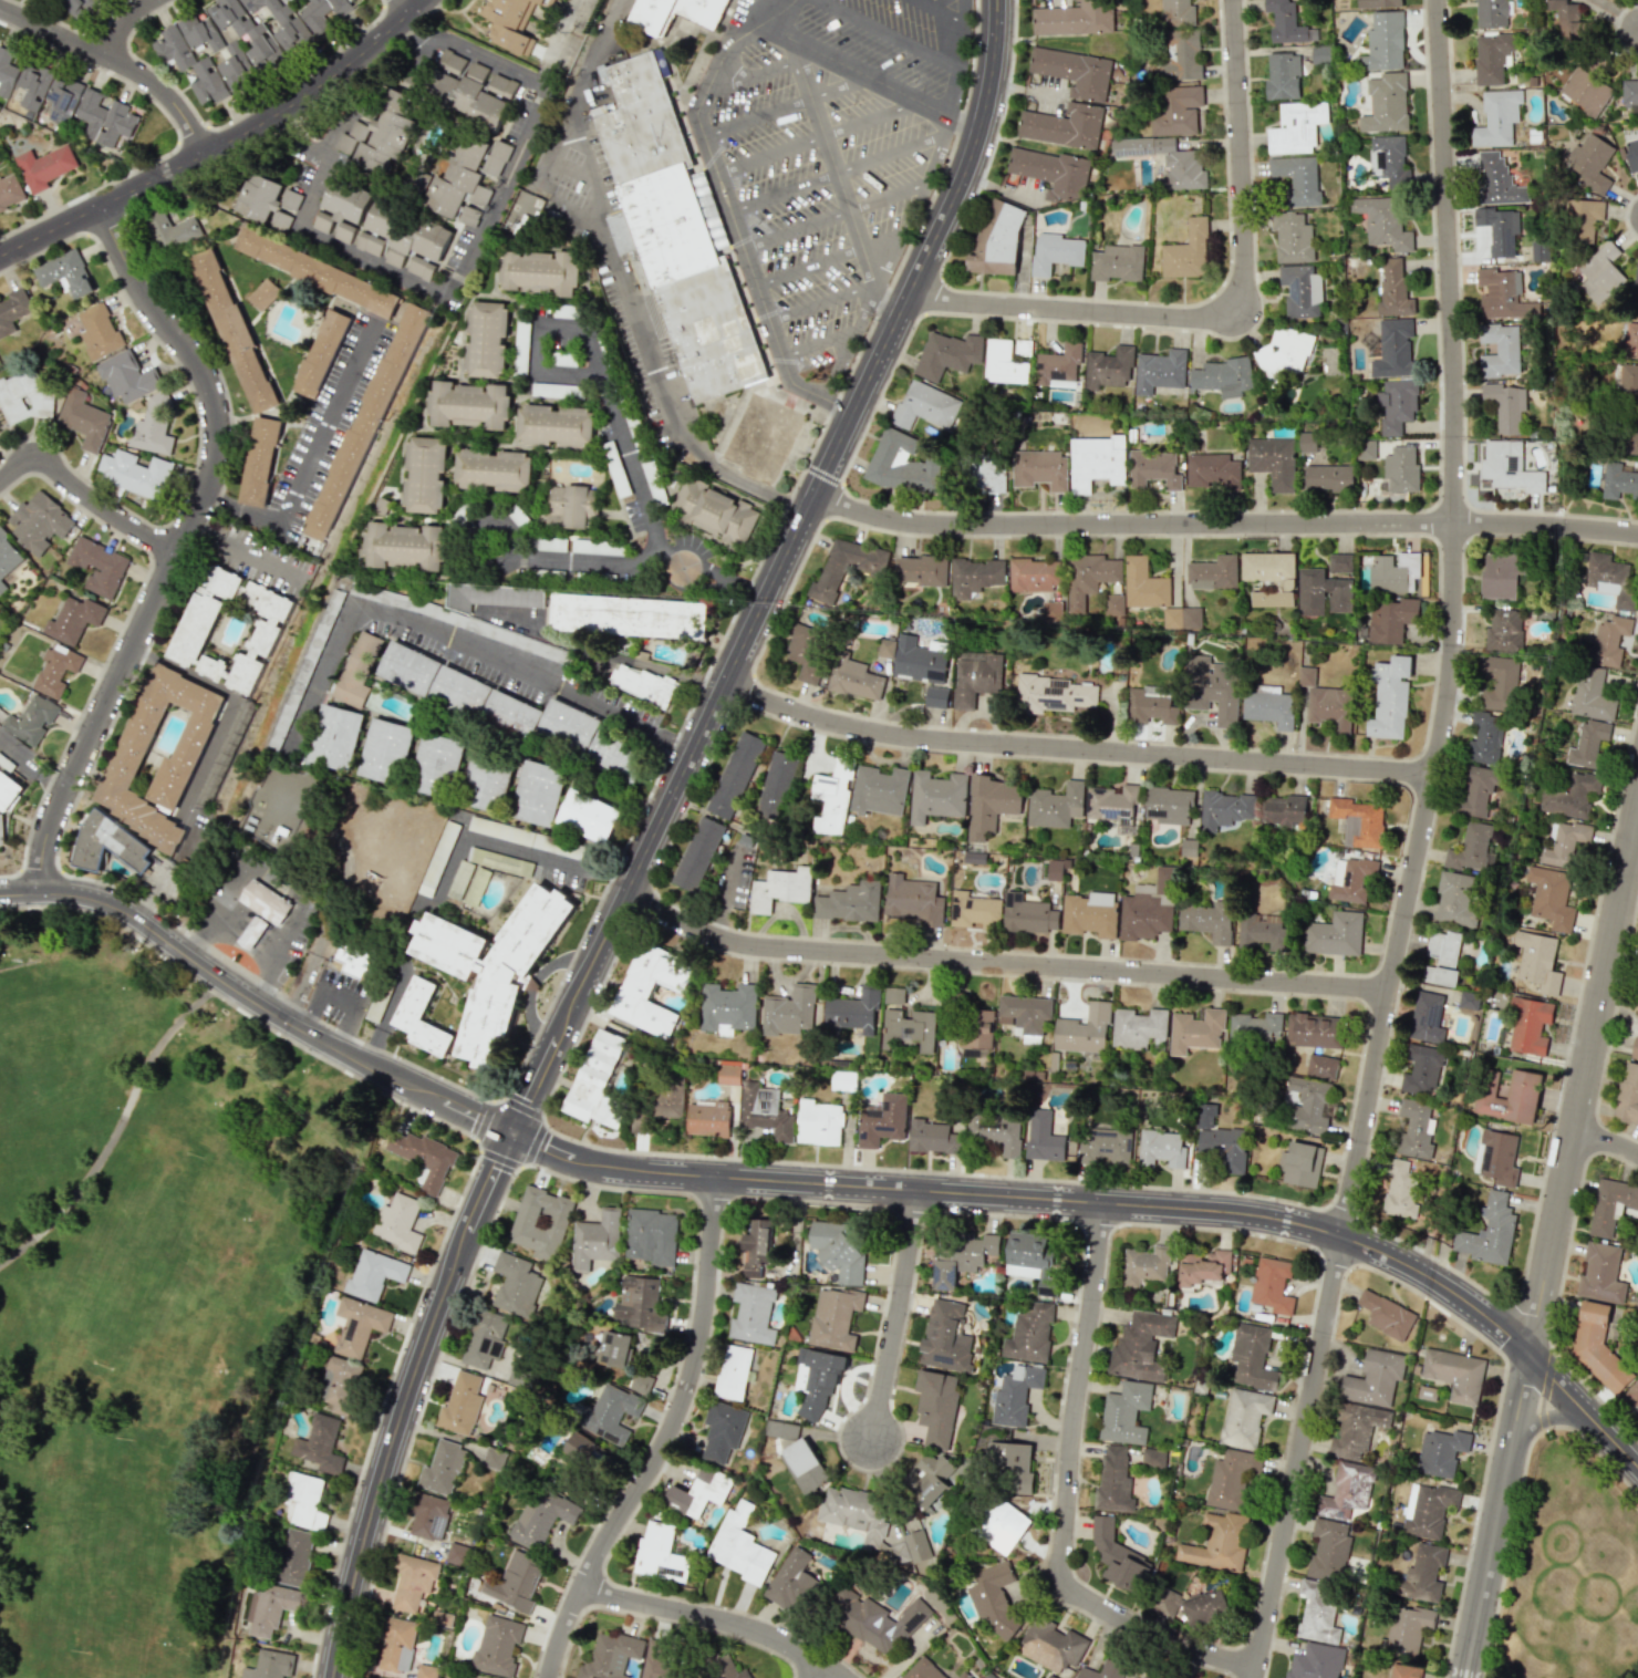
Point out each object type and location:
building: (289, 0)
road: (407, 3)
building: (1378, 3)
building: (77, 7)
building: (677, 11)
road: (937, 11)
building: (1176, 12)
building: (323, 13)
building: (1492, 13)
building: (1074, 17)
building: (1568, 17)
building: (1285, 21)
building: (283, 23)
road: (125, 24)
road: (569, 27)
building: (199, 33)
road: (885, 33)
building: (1383, 42)
building: (263, 49)
building: (1181, 54)
building: (1492, 59)
road: (117, 64)
building: (190, 64)
road: (857, 69)
road: (766, 70)
building: (1074, 70)
building: (7, 72)
building: (1283, 75)
building: (33, 86)
building: (470, 90)
building: (1587, 91)
building: (1630, 93)
building: (63, 100)
building: (1386, 103)
road: (781, 104)
building: (1176, 110)
building: (104, 118)
building: (1496, 118)
road: (966, 123)
building: (1062, 125)
building: (1296, 127)
building: (380, 134)
road: (815, 138)
road: (1207, 141)
road: (220, 145)
building: (1632, 153)
parking lot: (836, 156)
building: (495, 158)
building: (0, 159)
building: (1389, 159)
building: (1167, 160)
building: (1592, 162)
building: (44, 166)
road: (838, 172)
building: (1051, 173)
road: (834, 175)
building: (459, 176)
building: (1297, 178)
building: (1497, 180)
building: (10, 190)
road: (722, 193)
building: (268, 200)
building: (346, 200)
road: (916, 206)
road: (836, 218)
building: (1584, 220)
building: (322, 222)
building: (1382, 222)
building: (170, 230)
building: (1499, 230)
building: (344, 232)
building: (1292, 237)
building: (408, 238)
building: (996, 240)
building: (370, 244)
building: (1537, 249)
building: (1188, 251)
building: (1055, 252)
building: (685, 259)
road: (468, 260)
building: (1117, 262)
road: (828, 265)
building: (540, 271)
building: (65, 272)
building: (318, 272)
building: (1601, 272)
building: (1636, 275)
building: (1393, 289)
road: (624, 290)
building: (1300, 291)
building: (263, 294)
road: (892, 294)
road: (1079, 296)
building: (1504, 296)
road: (1219, 304)
road: (823, 305)
building: (13, 310)
building: (235, 330)
building: (99, 331)
building: (487, 340)
building: (1628, 340)
road: (817, 344)
building: (1023, 346)
building: (1392, 349)
building: (1500, 350)
building: (321, 353)
road: (537, 354)
building: (947, 354)
building: (1284, 354)
building: (563, 359)
building: (1003, 363)
building: (1058, 366)
building: (1160, 371)
building: (1224, 376)
building: (127, 377)
building: (1627, 379)
building: (24, 396)
building: (1397, 404)
building: (468, 405)
road: (839, 406)
building: (925, 406)
building: (1506, 406)
building: (84, 418)
building: (367, 421)
building: (554, 425)
building: (153, 426)
building: (1631, 433)
building: (1307, 442)
building: (1365, 449)
road: (836, 454)
road: (308, 455)
building: (260, 460)
building: (1097, 462)
building: (1273, 462)
building: (901, 464)
building: (1510, 467)
building: (1401, 468)
building: (493, 469)
building: (1041, 469)
building: (1153, 469)
building: (136, 472)
building: (1212, 472)
building: (983, 473)
building: (425, 475)
building: (1328, 477)
building: (1618, 480)
road: (86, 493)
road: (640, 496)
building: (569, 506)
building: (714, 511)
building: (40, 520)
road: (1226, 522)
road: (467, 526)
building: (535, 542)
road: (184, 543)
building: (405, 546)
road: (248, 548)
building: (7, 552)
road: (585, 560)
building: (1340, 562)
building: (99, 563)
building: (922, 570)
building: (832, 571)
building: (1395, 571)
building: (1214, 572)
building: (1035, 574)
building: (1501, 574)
building: (976, 576)
building: (1089, 577)
building: (1271, 577)
building: (1610, 579)
building: (2, 584)
building: (1144, 584)
building: (1323, 592)
building: (490, 595)
building: (1115, 604)
building: (1053, 611)
building: (630, 615)
building: (75, 618)
building: (1183, 618)
building: (1391, 620)
building: (460, 621)
building: (1503, 630)
building: (194, 631)
building: (1609, 641)
building: (888, 648)
building: (808, 651)
road: (607, 653)
building: (921, 660)
road: (502, 665)
building: (408, 667)
building: (56, 669)
building: (304, 670)
building: (356, 670)
building: (977, 676)
building: (1307, 676)
building: (857, 677)
building: (1496, 682)
building: (643, 684)
building: (1212, 687)
building: (460, 692)
building: (1055, 694)
building: (1592, 694)
road: (314, 695)
building: (937, 696)
building: (1389, 697)
building: (1268, 705)
building: (1150, 706)
building: (1330, 706)
road: (228, 707)
building: (511, 716)
building: (32, 718)
building: (569, 725)
building: (335, 736)
building: (1484, 737)
road: (674, 740)
building: (1588, 745)
building: (227, 748)
road: (1077, 748)
building: (386, 750)
building: (618, 756)
building: (437, 765)
road: (33, 768)
building: (121, 773)
building: (735, 774)
building: (489, 779)
building: (777, 785)
building: (8, 790)
building: (881, 790)
building: (1476, 790)
building: (538, 793)
building: (939, 796)
building: (1570, 796)
building: (833, 797)
building: (992, 805)
building: (1056, 805)
building: (1113, 805)
building: (1169, 805)
building: (1225, 809)
building: (1285, 810)
building: (590, 815)
building: (1359, 821)
building: (2, 830)
building: (509, 832)
building: (110, 842)
building: (1564, 843)
road: (1421, 846)
building: (1471, 849)
building: (698, 853)
building: (438, 858)
road: (448, 869)
building: (1055, 869)
building: (1352, 879)
road: (276, 882)
building: (781, 889)
road: (338, 891)
building: (1551, 897)
building: (1459, 898)
building: (913, 900)
building: (265, 902)
building: (850, 902)
building: (1148, 908)
building: (973, 910)
building: (1090, 913)
building: (1028, 914)
building: (1209, 920)
building: (1264, 931)
building: (251, 933)
building: (1336, 934)
road: (561, 957)
building: (1444, 957)
building: (355, 960)
building: (1538, 961)
road: (1005, 963)
building: (494, 966)
road: (532, 984)
building: (637, 987)
building: (894, 995)
road: (259, 998)
building: (1471, 999)
building: (416, 1002)
building: (729, 1006)
building: (790, 1011)
building: (853, 1012)
building: (1025, 1015)
road: (570, 1016)
building: (1429, 1017)
road: (531, 1024)
building: (1530, 1025)
building: (1256, 1026)
building: (1138, 1027)
building: (977, 1028)
building: (909, 1029)
building: (1085, 1029)
building: (1196, 1030)
building: (1315, 1030)
building: (1635, 1048)
building: (1323, 1066)
building: (1423, 1069)
building: (730, 1071)
building: (844, 1080)
building: (598, 1081)
road: (1584, 1090)
building: (1511, 1096)
building: (1628, 1096)
building: (667, 1098)
building: (1309, 1105)
building: (766, 1111)
building: (708, 1119)
building: (882, 1120)
building: (820, 1122)
building: (1417, 1130)
building: (996, 1132)
building: (931, 1137)
building: (1044, 1137)
building: (1220, 1141)
road: (1607, 1142)
building: (1107, 1146)
building: (1163, 1148)
building: (1499, 1157)
building: (423, 1159)
building: (1302, 1164)
building: (1401, 1187)
road: (1038, 1199)
building: (1611, 1205)
building: (398, 1222)
building: (541, 1222)
building: (1490, 1232)
building: (653, 1236)
building: (597, 1240)
building: (758, 1246)
building: (841, 1249)
building: (961, 1256)
building: (1031, 1261)
building: (1144, 1265)
building: (1203, 1266)
building: (1601, 1273)
building: (374, 1274)
building: (518, 1284)
building: (1272, 1285)
park: (145, 1293)
building: (642, 1304)
building: (755, 1314)
building: (1386, 1314)
road: (901, 1316)
building: (837, 1318)
building: (360, 1325)
building: (1029, 1334)
building: (947, 1337)
building: (484, 1339)
building: (1140, 1346)
building: (1598, 1347)
building: (612, 1348)
building: (1252, 1357)
building: (737, 1371)
building: (1454, 1374)
building: (1375, 1378)
building: (821, 1381)
building: (643, 1382)
building: (339, 1384)
building: (1632, 1394)
building: (1016, 1395)
road: (405, 1401)
building: (462, 1403)
building: (939, 1408)
road: (1585, 1411)
building: (1126, 1412)
building: (613, 1413)
building: (1244, 1417)
road: (1541, 1418)
building: (781, 1429)
building: (1355, 1430)
building: (725, 1432)
road: (670, 1440)
building: (320, 1444)
building: (587, 1451)
building: (1440, 1452)
building: (1153, 1457)
building: (493, 1459)
building: (1014, 1464)
building: (808, 1465)
building: (442, 1468)
building: (933, 1479)
building: (1232, 1479)
building: (1113, 1481)
building: (1346, 1491)
building: (701, 1492)
road: (1068, 1499)
building: (304, 1501)
building: (1428, 1509)
building: (428, 1516)
road: (1499, 1516)
building: (542, 1519)
building: (875, 1524)
building: (1002, 1525)
building: (1217, 1543)
building: (743, 1545)
building: (1328, 1551)
building: (662, 1553)
building: (456, 1554)
building: (294, 1556)
building: (1119, 1557)
building: (1422, 1573)
park: (1570, 1573)
building: (516, 1581)
building: (412, 1582)
building: (795, 1583)
building: (998, 1598)
building: (1167, 1603)
building: (270, 1607)
building: (1205, 1607)
building: (1318, 1610)
road: (717, 1617)
building: (877, 1619)
building: (1407, 1630)
building: (396, 1644)
building: (497, 1645)
building: (1053, 1645)
building: (611, 1656)
building: (657, 1660)
building: (1317, 1661)
building: (271, 1665)
building: (723, 1667)
building: (923, 1669)
road: (820, 1670)
building: (1103, 1670)
building: (426, 1671)
building: (1404, 1671)
building: (964, 1675)
building: (989, 1675)
building: (1050, 1677)
building: (1155, 1677)

